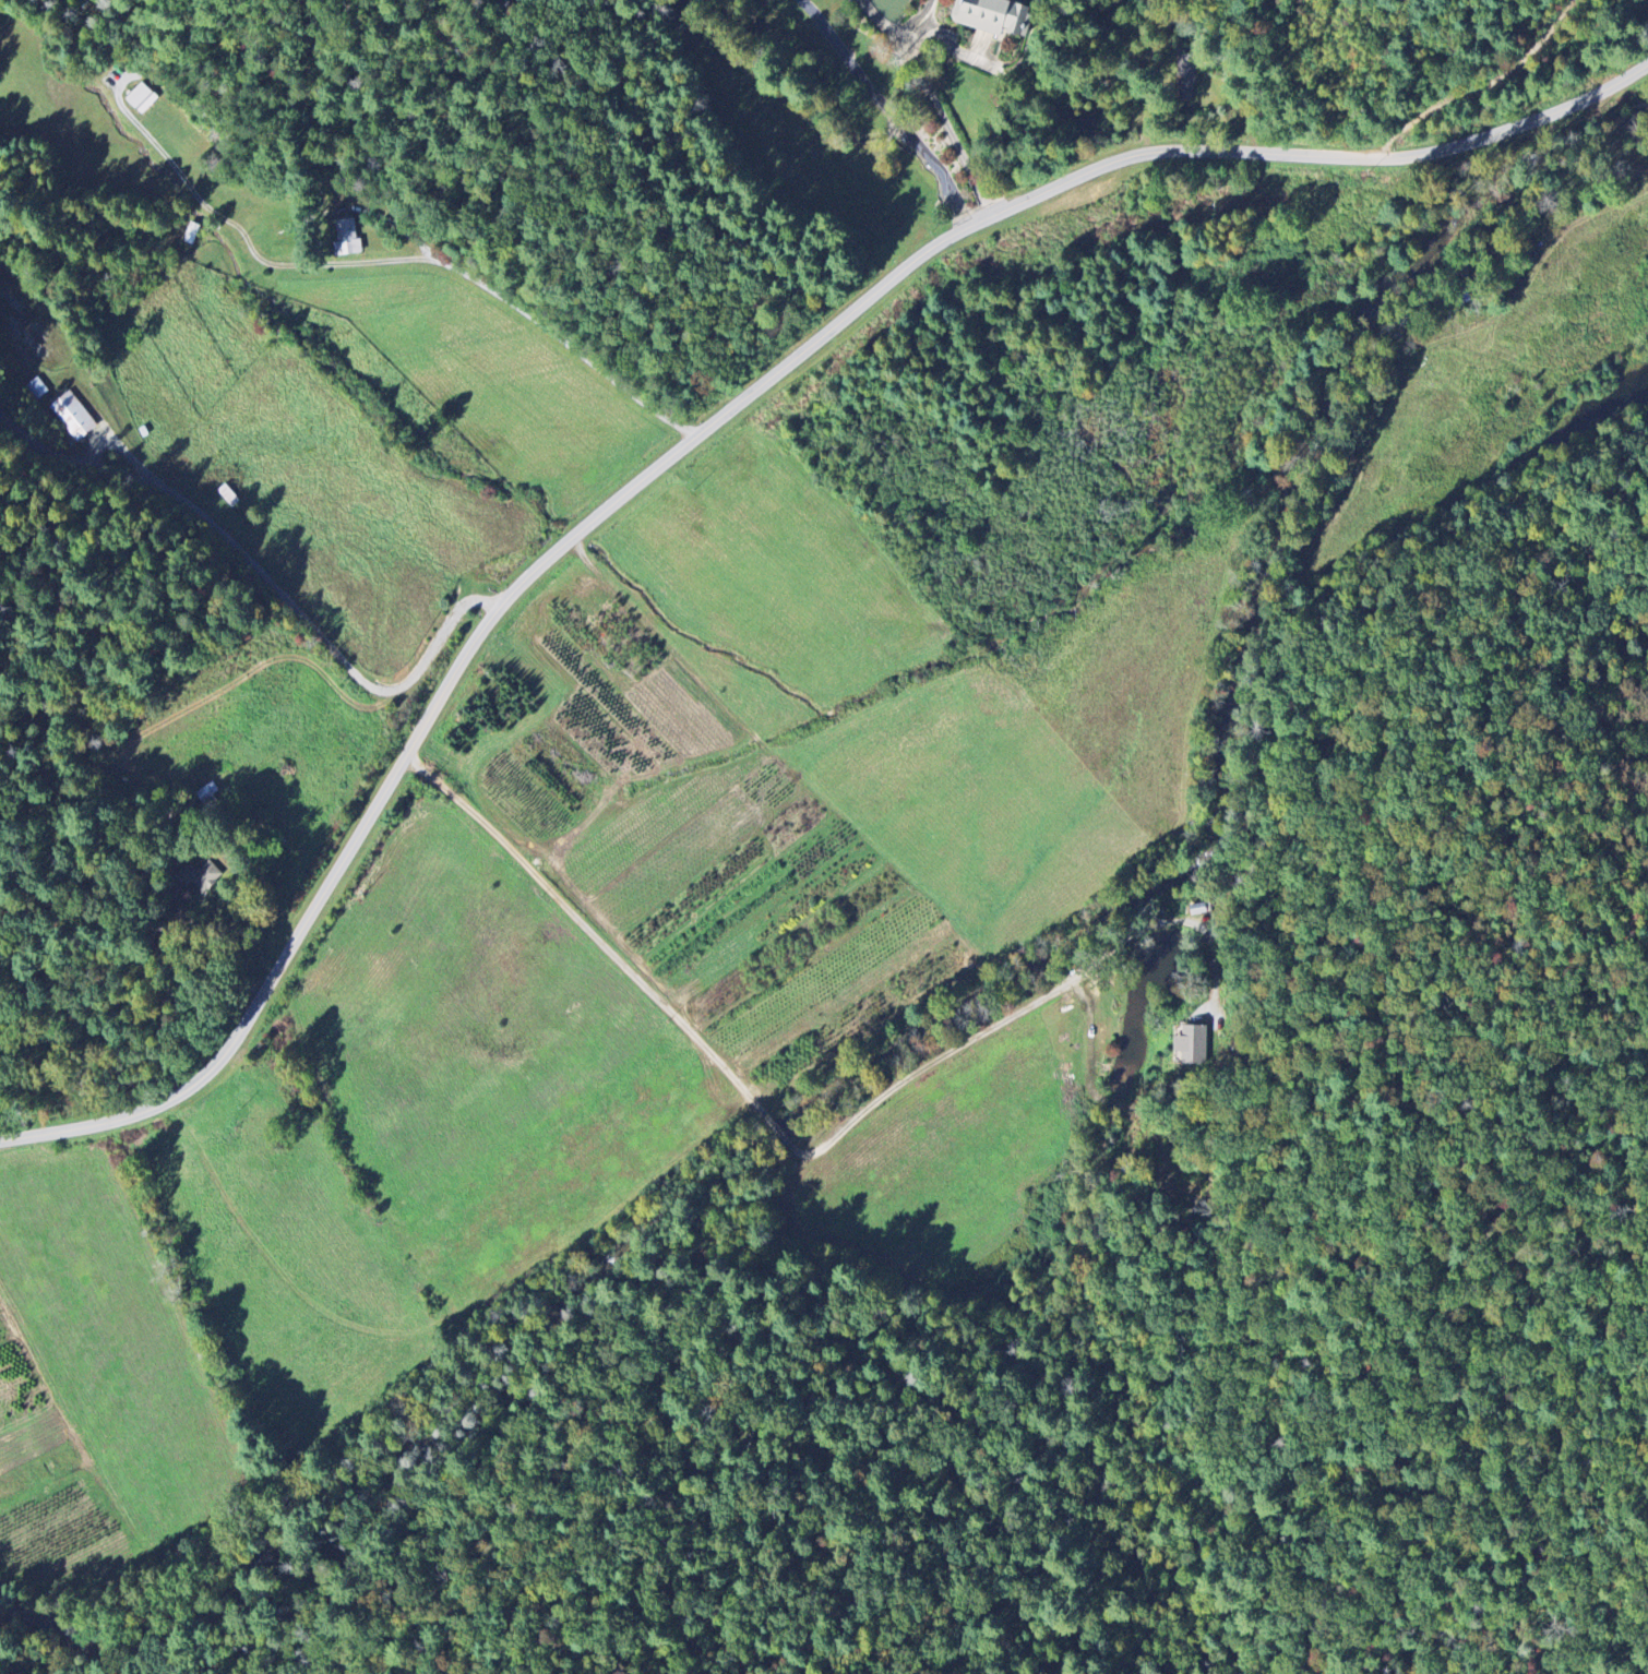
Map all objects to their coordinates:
building: (993, 16)
road: (901, 33)
road: (122, 77)
building: (142, 98)
road: (889, 110)
road: (946, 127)
road: (464, 231)
building: (347, 238)
river: (1456, 253)
building: (36, 388)
building: (73, 416)
road: (705, 428)
road: (131, 453)
road: (267, 579)
river: (1233, 642)
building: (208, 794)
building: (1192, 1045)
river: (716, 1171)
river: (226, 1581)
river: (83, 1628)

